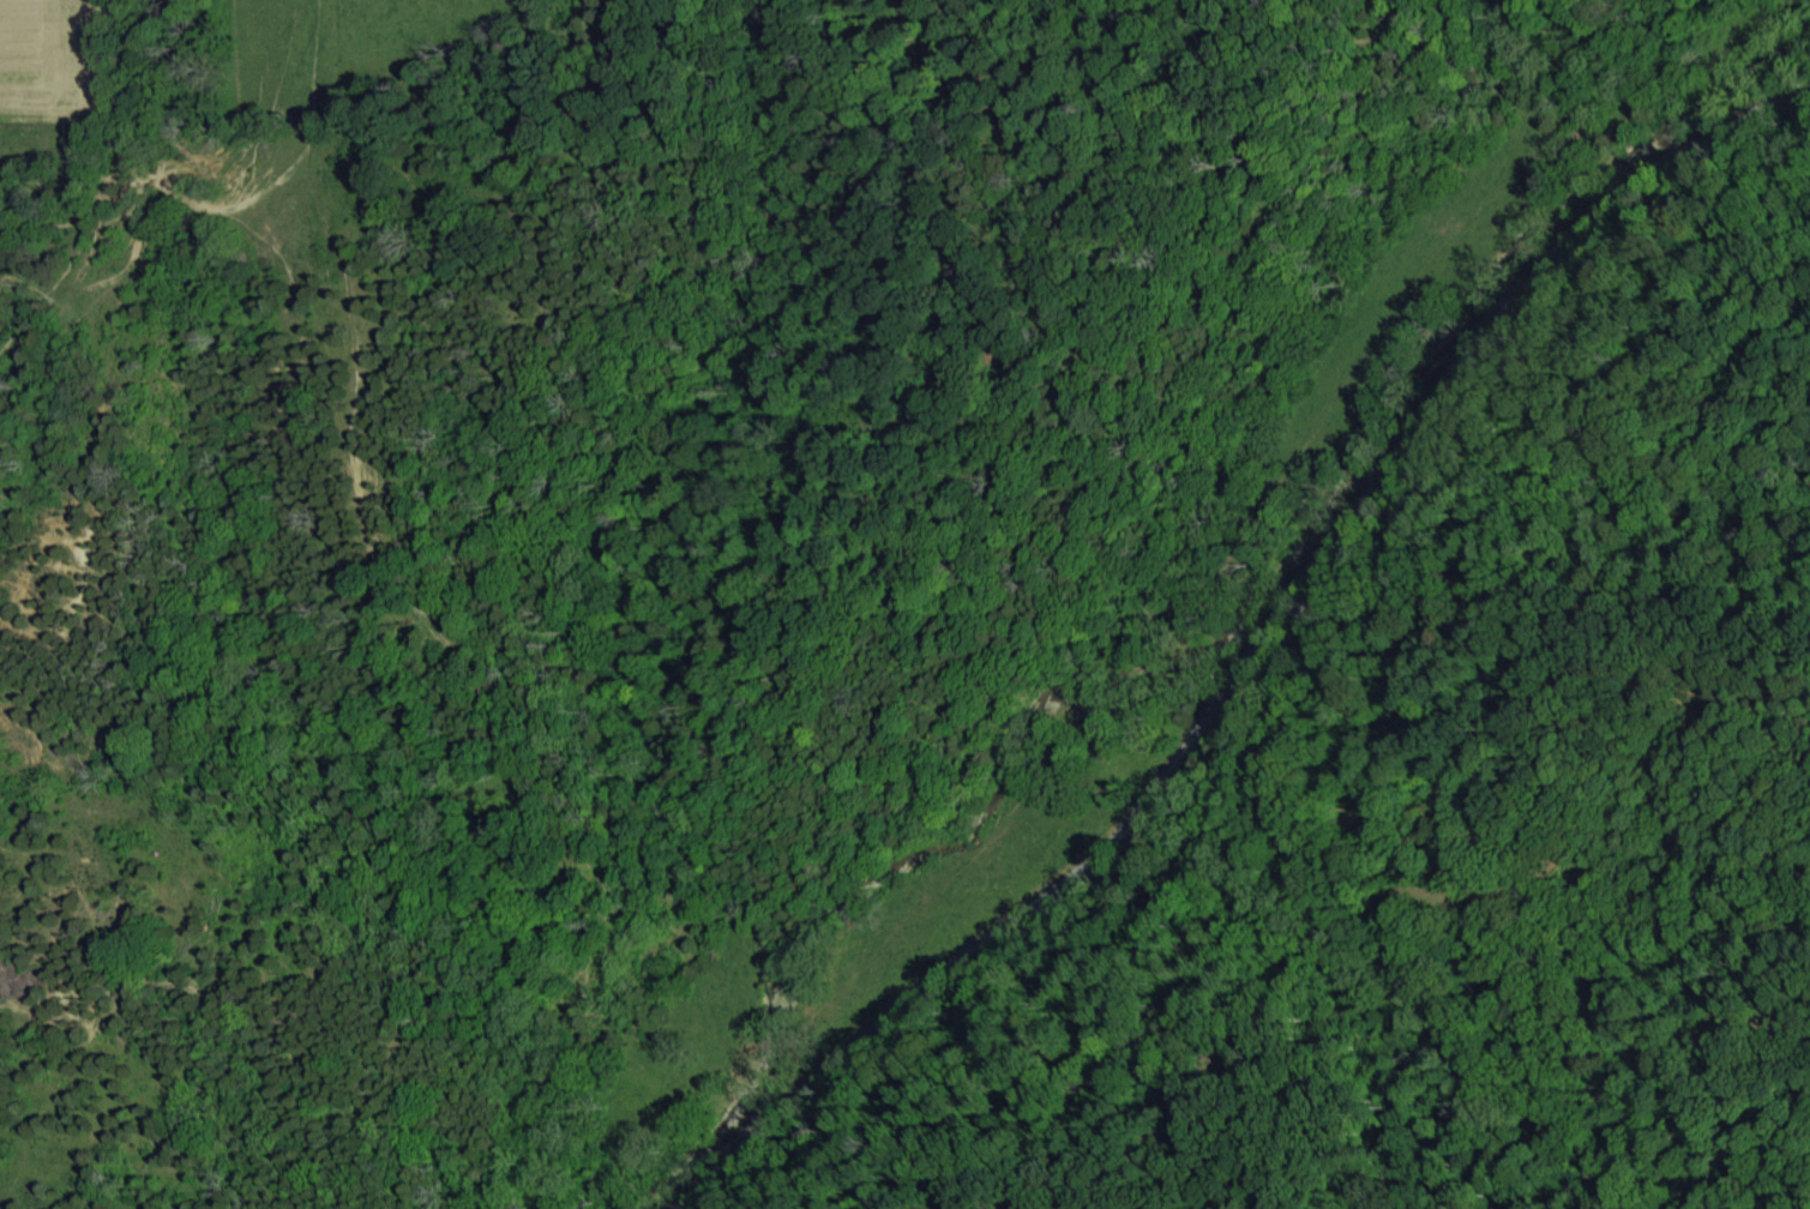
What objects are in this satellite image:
crop: (355, 48)
crop: (48, 76)
road: (1247, 652)

